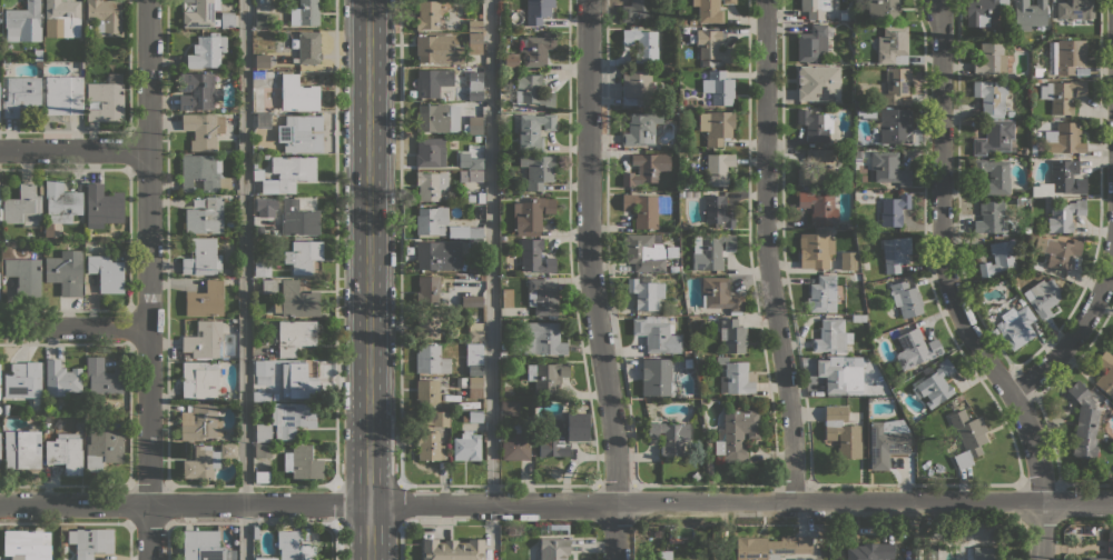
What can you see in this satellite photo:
building: (728, 1)
building: (815, 8)
building: (883, 9)
building: (1074, 9)
building: (538, 10)
building: (636, 10)
building: (708, 10)
building: (982, 11)
building: (200, 12)
building: (304, 12)
building: (1028, 13)
building: (105, 14)
building: (427, 14)
building: (849, 16)
building: (62, 18)
building: (226, 19)
building: (262, 19)
building: (683, 20)
building: (23, 22)
building: (474, 26)
building: (474, 43)
building: (812, 43)
building: (642, 44)
building: (893, 44)
building: (712, 46)
building: (308, 48)
building: (437, 49)
building: (538, 49)
building: (206, 50)
building: (38, 53)
building: (1051, 53)
building: (1070, 54)
building: (992, 58)
building: (262, 60)
building: (511, 61)
building: (1081, 71)
building: (257, 74)
building: (432, 81)
building: (814, 84)
building: (475, 86)
building: (896, 86)
building: (637, 87)
building: (718, 87)
building: (197, 91)
building: (531, 92)
building: (297, 93)
building: (19, 94)
building: (63, 94)
building: (1062, 94)
building: (989, 97)
building: (105, 101)
building: (234, 108)
building: (866, 112)
building: (1009, 113)
building: (432, 118)
building: (262, 120)
building: (473, 124)
building: (815, 124)
building: (716, 126)
building: (895, 126)
building: (1047, 126)
building: (641, 128)
building: (203, 129)
building: (533, 129)
building: (303, 133)
building: (995, 137)
building: (1064, 138)
building: (1036, 148)
road: (73, 150)
building: (431, 152)
building: (475, 163)
building: (817, 167)
building: (646, 168)
building: (718, 168)
building: (888, 168)
building: (536, 170)
building: (204, 172)
building: (286, 173)
building: (993, 174)
building: (470, 176)
building: (1066, 177)
building: (430, 184)
building: (684, 186)
building: (513, 190)
building: (681, 193)
building: (481, 197)
building: (470, 198)
building: (61, 202)
building: (22, 206)
building: (102, 206)
building: (819, 207)
building: (641, 209)
building: (893, 209)
building: (718, 211)
building: (0, 213)
building: (531, 214)
building: (205, 216)
building: (1064, 216)
building: (294, 217)
building: (988, 217)
building: (431, 220)
building: (684, 224)
building: (48, 229)
building: (457, 231)
building: (831, 231)
building: (474, 232)
road: (335, 243)
road: (398, 243)
building: (475, 244)
building: (713, 250)
road: (766, 250)
building: (815, 250)
road: (490, 251)
building: (671, 251)
building: (1058, 251)
building: (643, 252)
building: (895, 252)
building: (437, 254)
building: (303, 256)
building: (201, 257)
building: (534, 257)
building: (998, 258)
building: (847, 260)
building: (262, 268)
building: (473, 268)
building: (672, 269)
building: (66, 271)
building: (107, 271)
building: (24, 276)
building: (482, 277)
road: (148, 280)
road: (244, 280)
road: (367, 280)
road: (590, 280)
building: (268, 286)
building: (427, 290)
road: (952, 290)
building: (646, 293)
building: (719, 293)
building: (821, 293)
building: (505, 297)
building: (1044, 297)
building: (542, 298)
building: (297, 299)
building: (906, 299)
building: (205, 300)
building: (472, 301)
building: (858, 318)
building: (426, 324)
road: (73, 326)
building: (1015, 327)
building: (474, 331)
road: (1076, 333)
building: (656, 334)
building: (294, 336)
building: (732, 336)
building: (831, 336)
building: (542, 338)
building: (204, 339)
building: (1112, 342)
building: (1112, 346)
building: (914, 349)
building: (687, 352)
building: (503, 354)
building: (187, 357)
building: (473, 358)
building: (430, 359)
building: (857, 361)
building: (262, 371)
building: (1105, 373)
building: (102, 376)
building: (656, 376)
building: (736, 376)
building: (835, 376)
building: (549, 377)
building: (61, 378)
building: (199, 379)
building: (23, 381)
building: (297, 381)
building: (936, 382)
building: (474, 387)
building: (884, 391)
building: (427, 392)
building: (259, 396)
building: (951, 403)
building: (510, 408)
building: (4, 412)
building: (475, 417)
building: (292, 418)
building: (436, 419)
building: (1084, 421)
building: (199, 422)
building: (841, 431)
building: (263, 432)
building: (737, 433)
building: (670, 437)
building: (967, 437)
building: (556, 439)
building: (514, 443)
building: (885, 443)
building: (430, 447)
building: (466, 447)
building: (22, 449)
building: (102, 449)
building: (228, 450)
building: (263, 450)
building: (65, 452)
building: (200, 462)
building: (302, 462)
road: (556, 503)
road: (336, 504)
road: (400, 506)
building: (1110, 540)
building: (90, 541)
road: (336, 541)
road: (400, 542)
building: (26, 544)
building: (201, 544)
building: (292, 547)
building: (762, 548)
building: (452, 549)
building: (553, 549)
building: (870, 551)
building: (932, 552)
building: (979, 553)
building: (664, 554)
building: (259, 558)
building: (810, 558)

